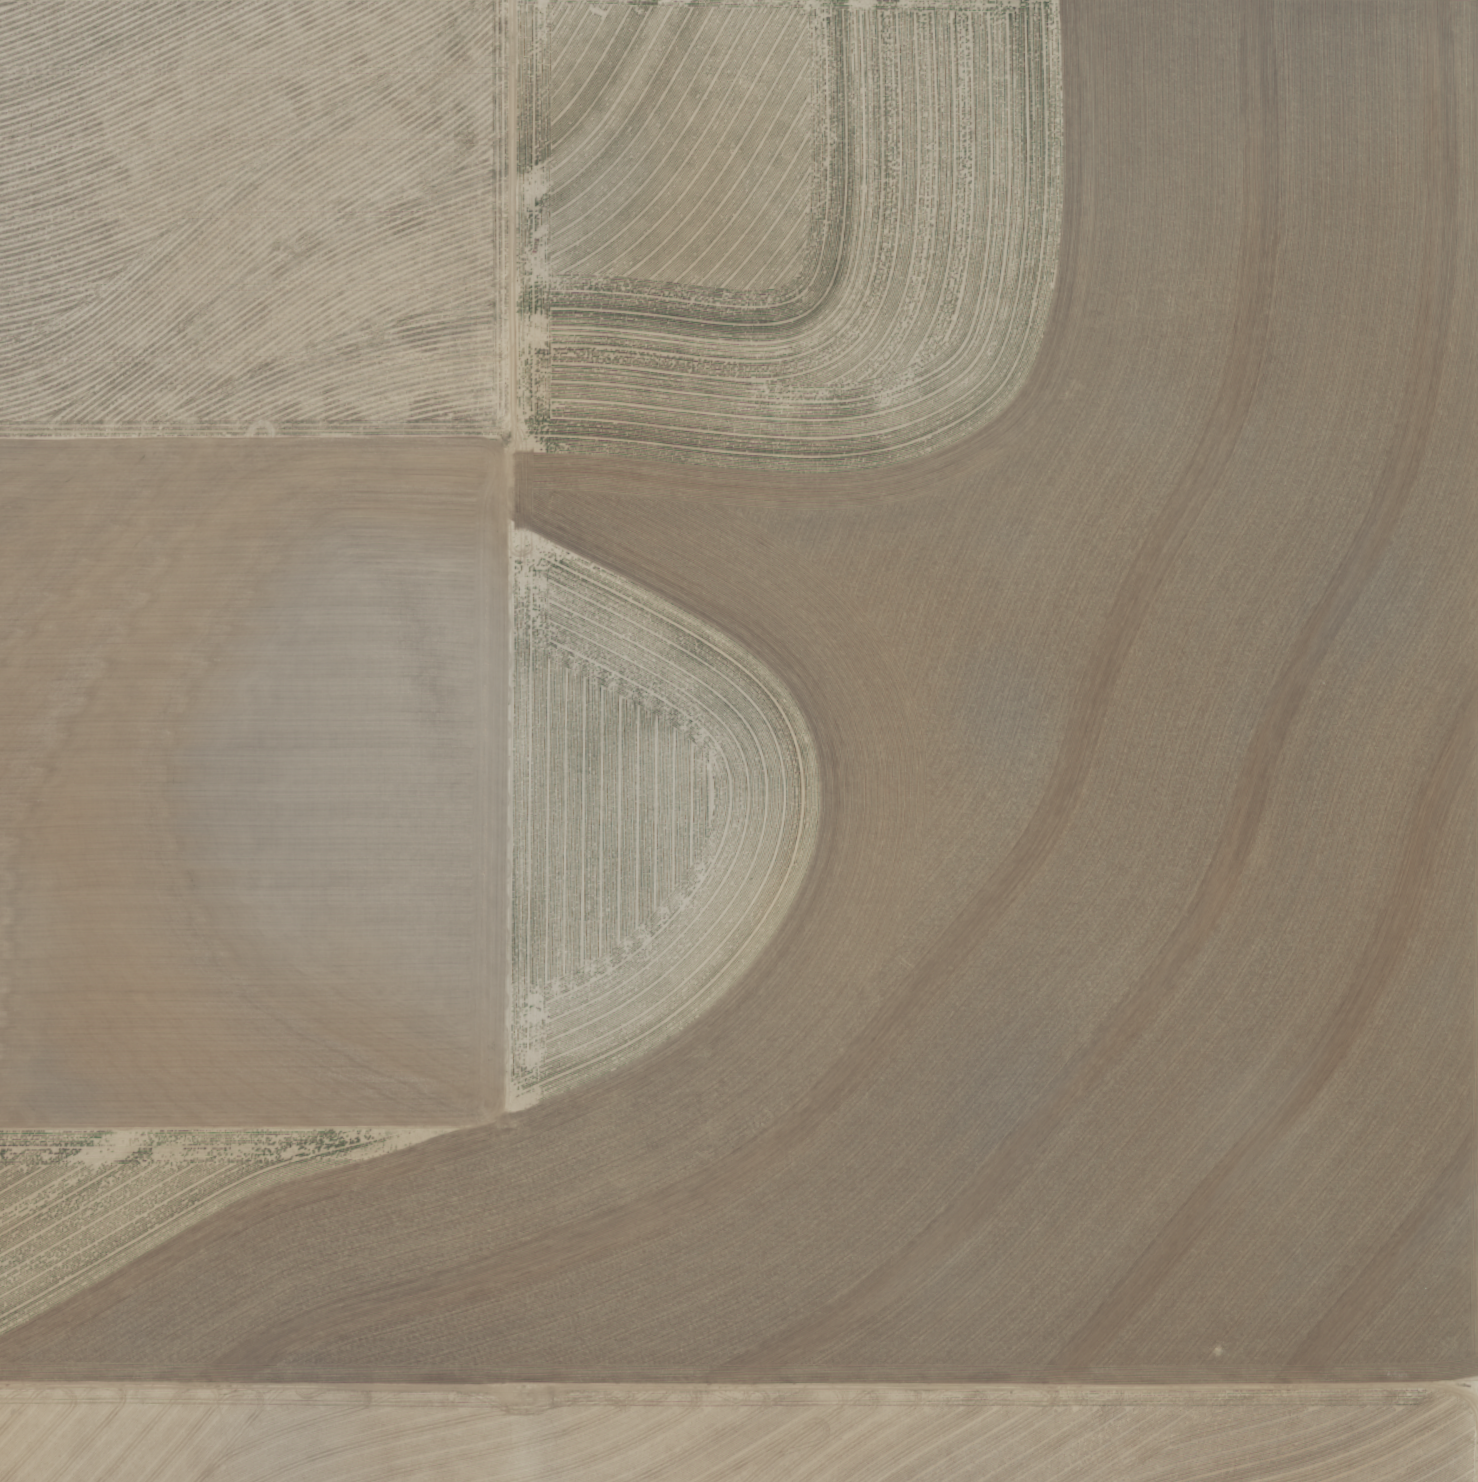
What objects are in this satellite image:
road: (531, 823)

